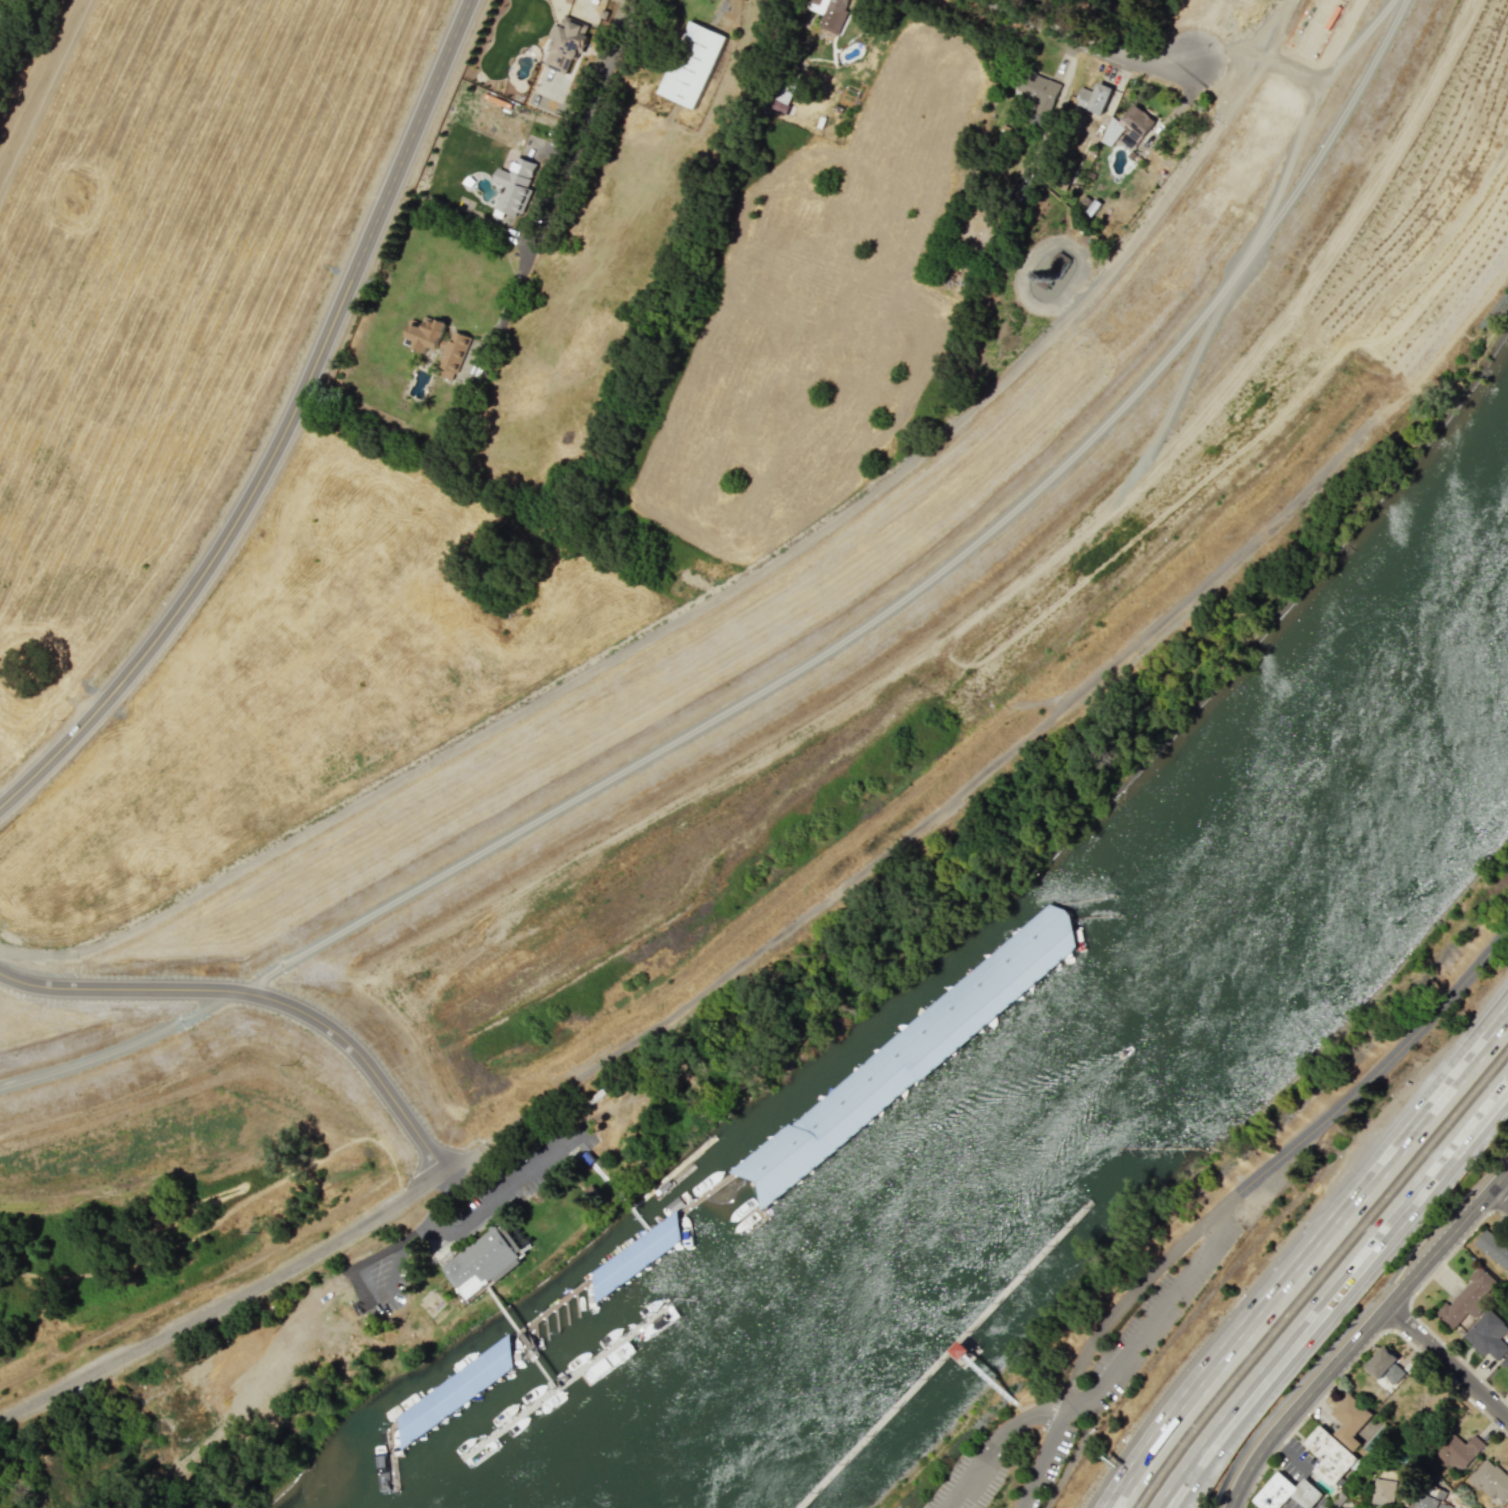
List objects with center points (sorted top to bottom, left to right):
building: (830, 12)
building: (567, 44)
building: (692, 64)
road: (1165, 68)
building: (1038, 91)
road: (1356, 95)
building: (782, 97)
building: (1093, 98)
building: (1129, 126)
road: (561, 173)
building: (1026, 178)
building: (514, 186)
building: (1059, 261)
road: (1105, 277)
building: (425, 333)
building: (452, 357)
road: (282, 431)
building: (1062, 947)
road: (259, 994)
river: (1093, 1095)
building: (780, 1140)
parking lot: (526, 1166)
pier: (670, 1171)
road: (506, 1184)
road: (610, 1185)
road: (1232, 1195)
road: (1497, 1198)
pier: (638, 1220)
road: (428, 1225)
building: (1493, 1248)
building: (636, 1256)
road: (1306, 1258)
building: (484, 1259)
pier: (613, 1259)
road: (1333, 1293)
road: (240, 1295)
building: (1468, 1298)
road: (504, 1310)
parking lot: (1150, 1325)
road: (1360, 1332)
building: (1487, 1335)
pier: (527, 1342)
road: (943, 1354)
building: (503, 1355)
road: (1447, 1361)
building: (1505, 1361)
building: (1385, 1365)
road: (541, 1367)
pier: (564, 1380)
road: (994, 1383)
road: (1099, 1386)
building: (426, 1413)
building: (1351, 1420)
building: (1459, 1451)
building: (1329, 1455)
road: (1041, 1461)
building: (1491, 1481)
building: (1391, 1489)
building: (1287, 1493)
building: (1430, 1502)
building: (1506, 1506)
building: (1342, 1507)

